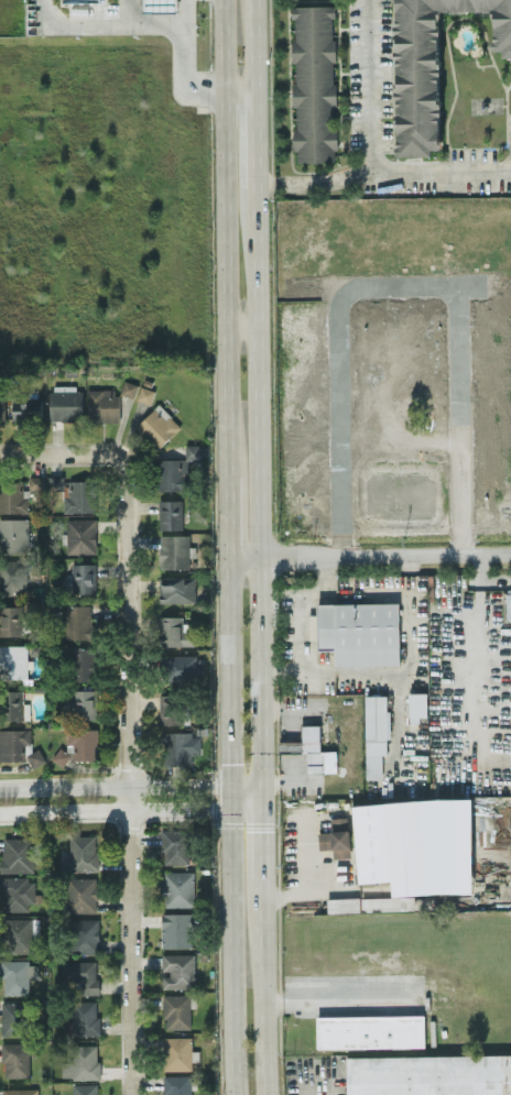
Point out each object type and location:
building: (81, 0)
building: (160, 6)
road: (128, 12)
road: (181, 12)
road: (153, 24)
road: (257, 45)
building: (431, 66)
building: (314, 81)
road: (240, 89)
road: (258, 138)
road: (368, 155)
road: (314, 180)
road: (224, 238)
road: (241, 322)
building: (129, 387)
building: (145, 393)
building: (65, 402)
building: (2, 404)
building: (102, 404)
building: (25, 407)
building: (157, 426)
building: (176, 469)
building: (34, 482)
building: (55, 482)
road: (259, 484)
building: (78, 495)
building: (13, 496)
building: (170, 513)
road: (227, 516)
building: (13, 534)
building: (80, 535)
building: (174, 550)
road: (369, 556)
road: (130, 557)
building: (13, 576)
building: (176, 589)
road: (298, 601)
building: (77, 622)
building: (312, 625)
building: (173, 631)
building: (357, 632)
building: (13, 660)
building: (81, 663)
road: (228, 670)
building: (83, 703)
building: (14, 704)
building: (417, 704)
building: (171, 708)
building: (376, 733)
building: (13, 743)
building: (78, 744)
building: (178, 746)
building: (312, 749)
building: (35, 756)
road: (113, 784)
traffic signals: (228, 784)
road: (244, 784)
traffic signals: (262, 784)
road: (228, 797)
road: (113, 810)
traffic signals: (228, 810)
road: (244, 810)
traffic signals: (262, 810)
road: (262, 830)
building: (336, 836)
building: (398, 843)
building: (175, 845)
building: (80, 853)
building: (17, 854)
building: (178, 887)
road: (300, 888)
building: (17, 893)
building: (81, 894)
building: (343, 904)
building: (380, 905)
building: (176, 929)
building: (19, 933)
building: (85, 934)
road: (130, 939)
road: (230, 952)
building: (178, 970)
building: (81, 974)
building: (18, 975)
road: (263, 985)
road: (338, 994)
building: (176, 1010)
building: (13, 1017)
building: (85, 1017)
building: (370, 1030)
building: (15, 1059)
building: (81, 1062)
building: (428, 1074)
building: (177, 1084)
building: (85, 1088)
building: (20, 1091)

